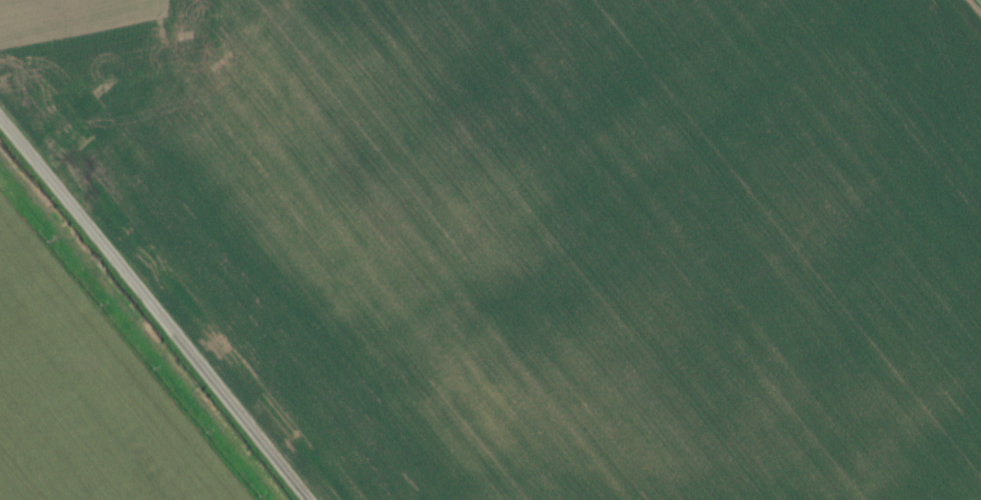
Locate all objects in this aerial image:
road: (151, 311)

